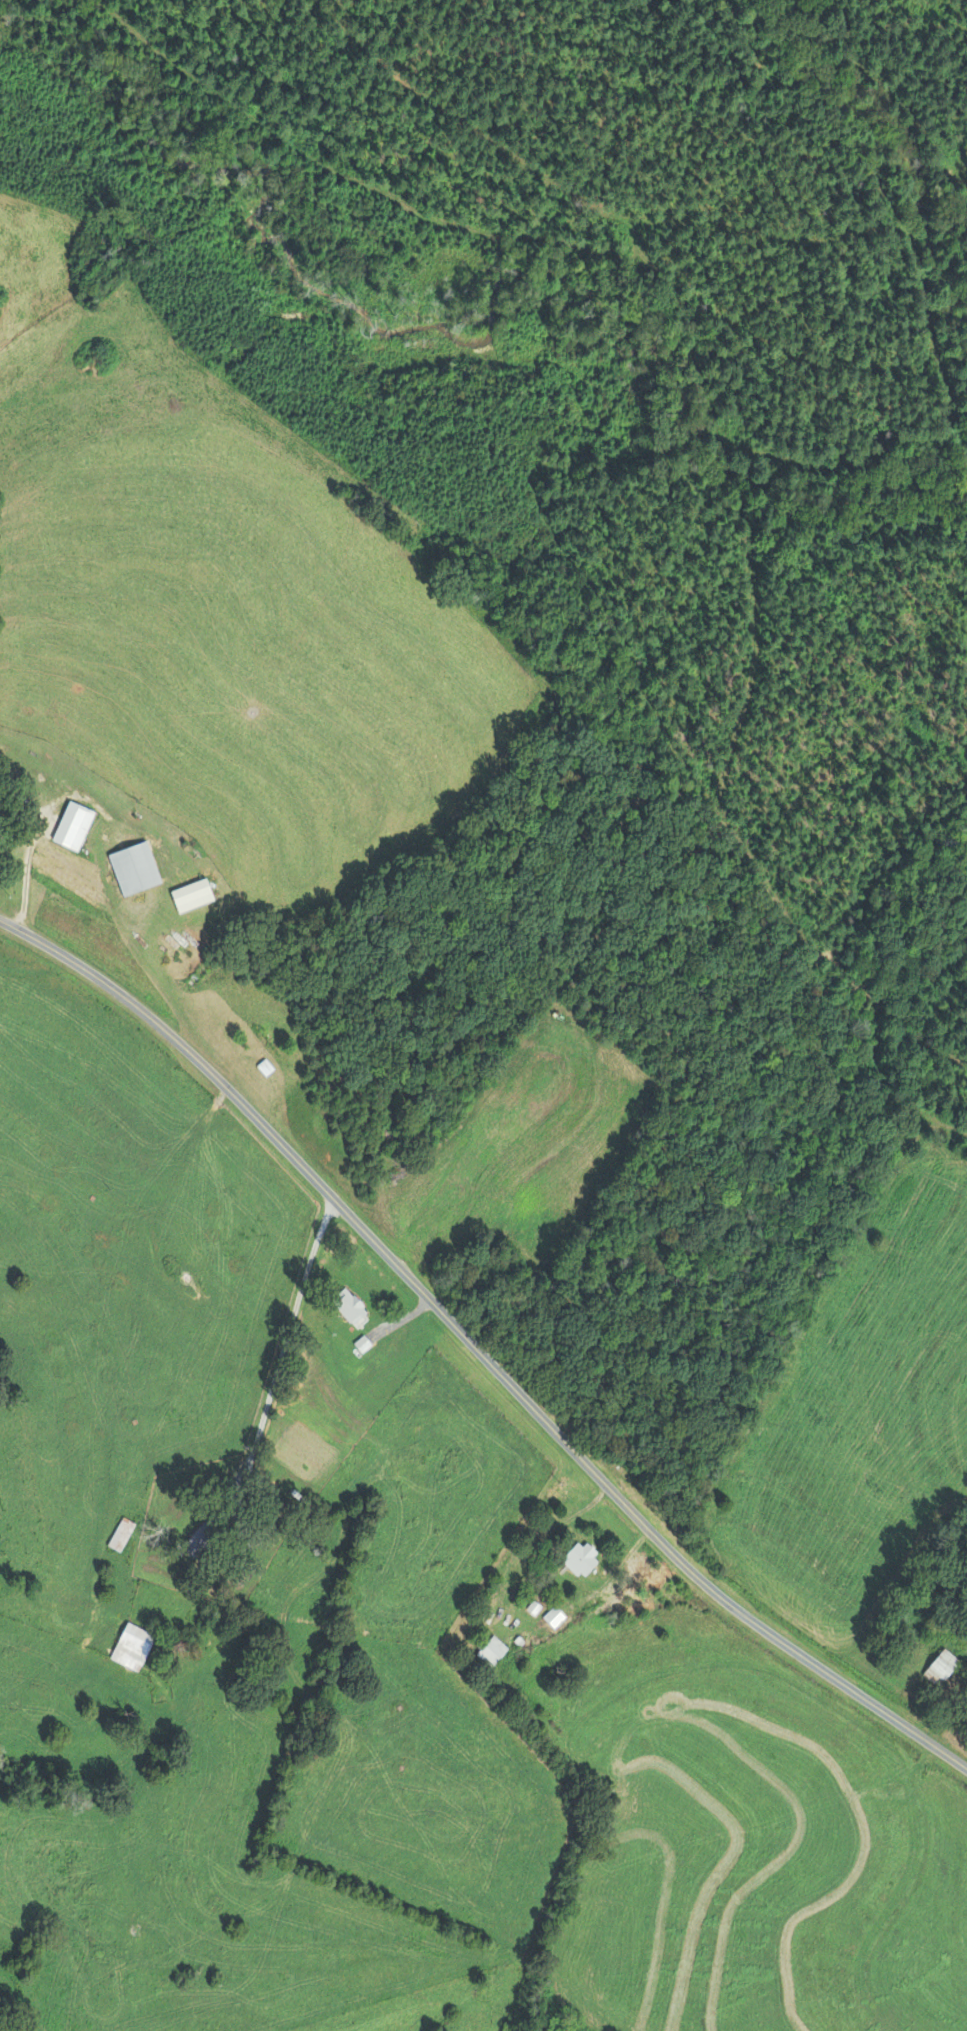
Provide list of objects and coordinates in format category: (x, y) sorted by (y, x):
building: (71, 826)
building: (132, 868)
building: (189, 896)
building: (262, 1040)
building: (263, 1069)
building: (347, 1305)
road: (289, 1332)
road: (477, 1349)
building: (121, 1534)
building: (204, 1536)
building: (580, 1560)
building: (553, 1617)
building: (134, 1646)
building: (490, 1651)
building: (940, 1667)

